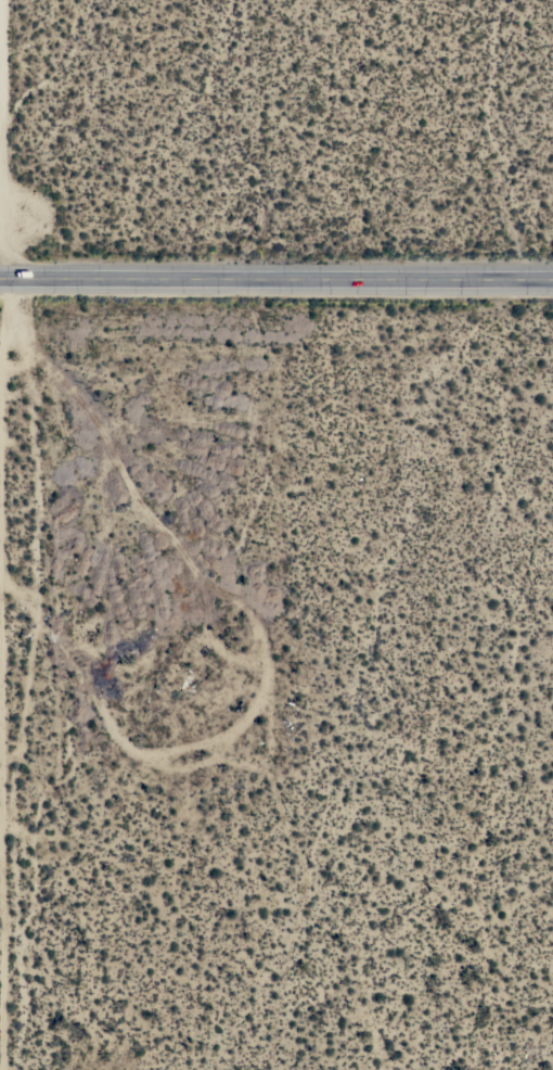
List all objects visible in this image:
road: (276, 279)
road: (7, 534)

